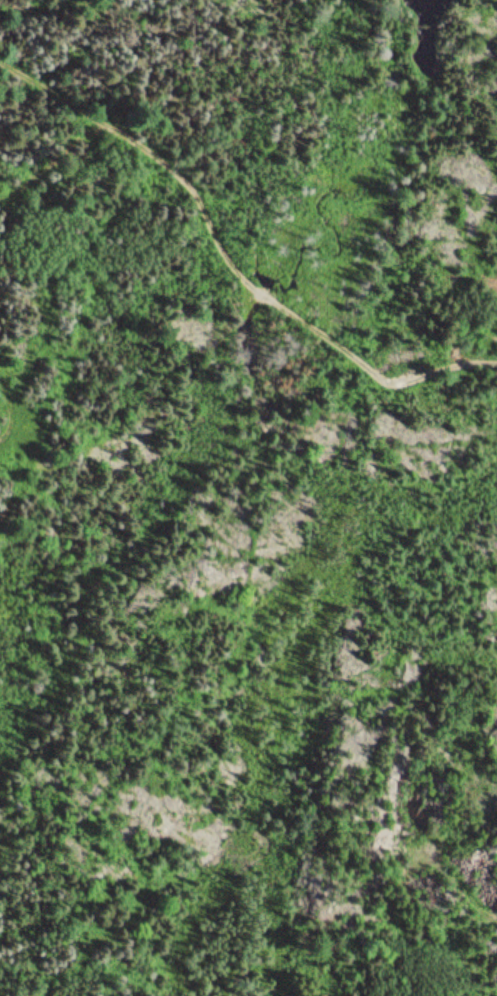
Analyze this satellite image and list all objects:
road: (54, 156)
road: (234, 240)
road: (6, 405)

